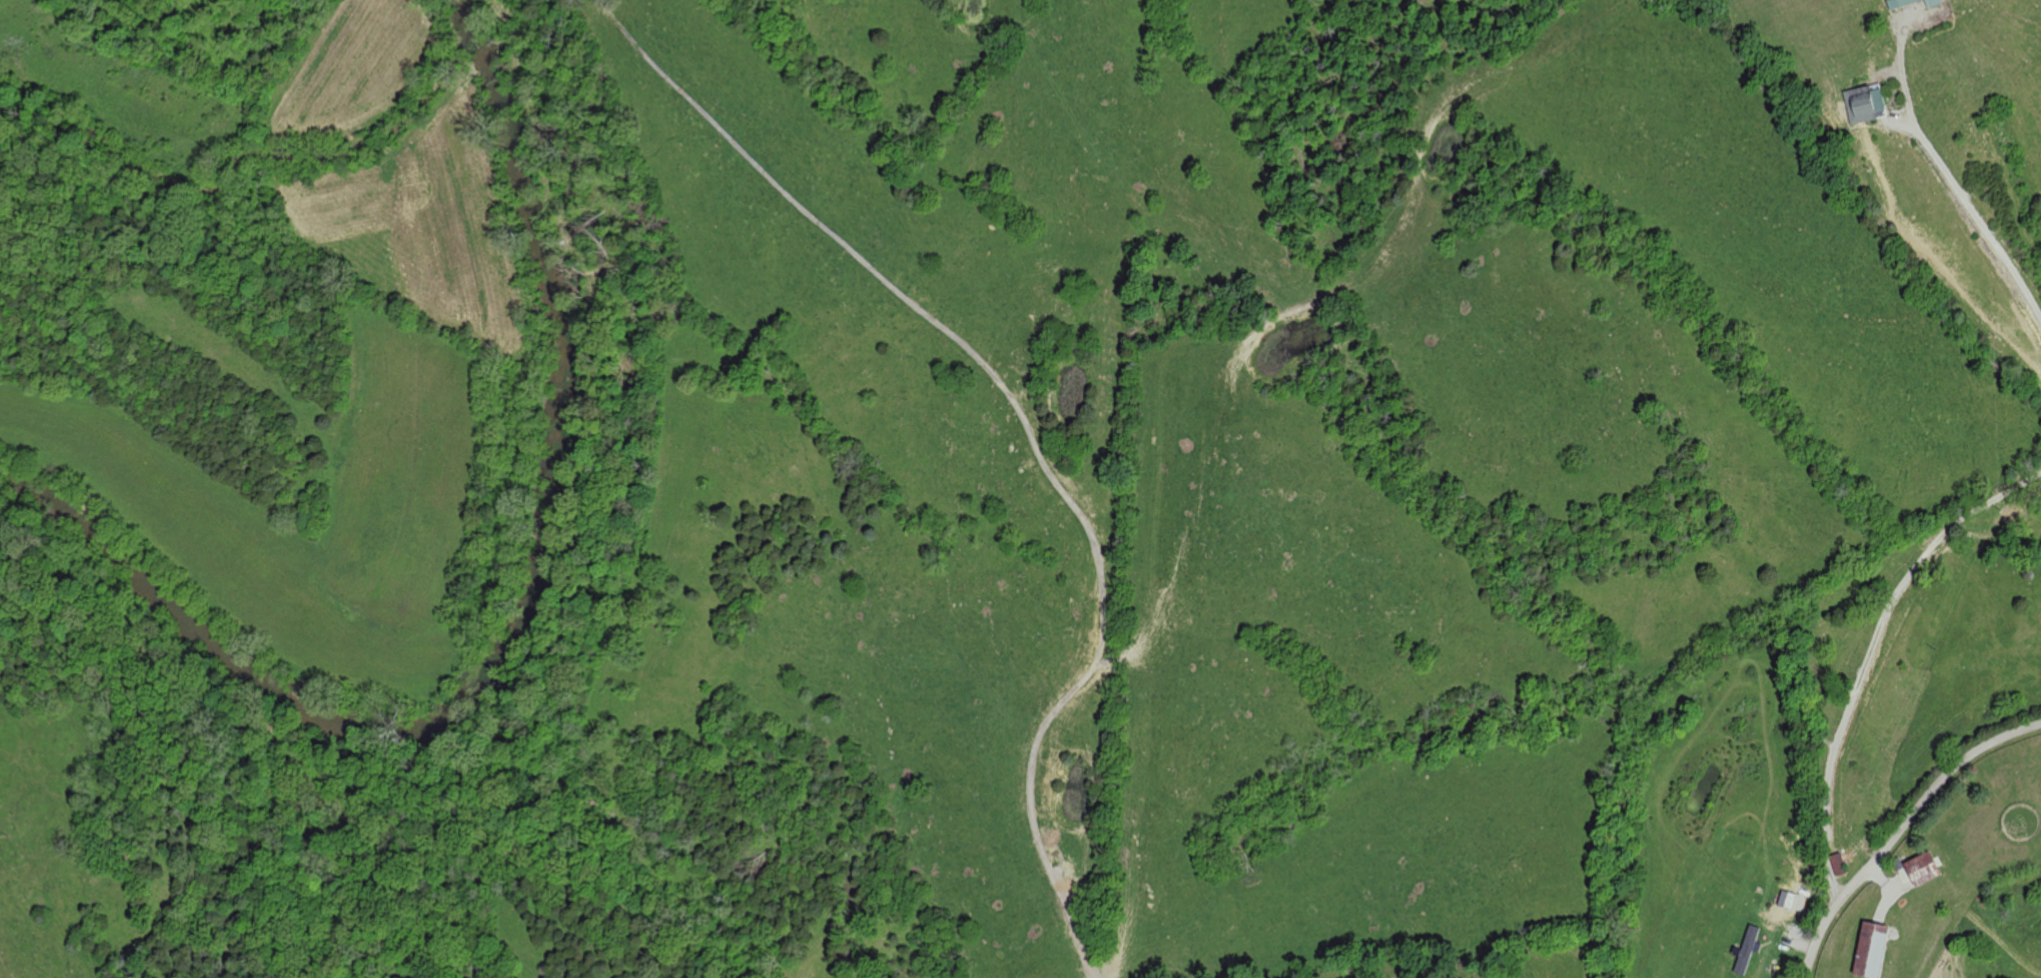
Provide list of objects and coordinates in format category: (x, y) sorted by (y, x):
building: (1913, 3)
building: (1867, 105)
road: (1950, 178)
road: (1870, 654)
road: (1901, 830)
building: (1841, 865)
building: (1926, 869)
building: (1788, 900)
building: (1875, 950)
building: (1747, 952)

